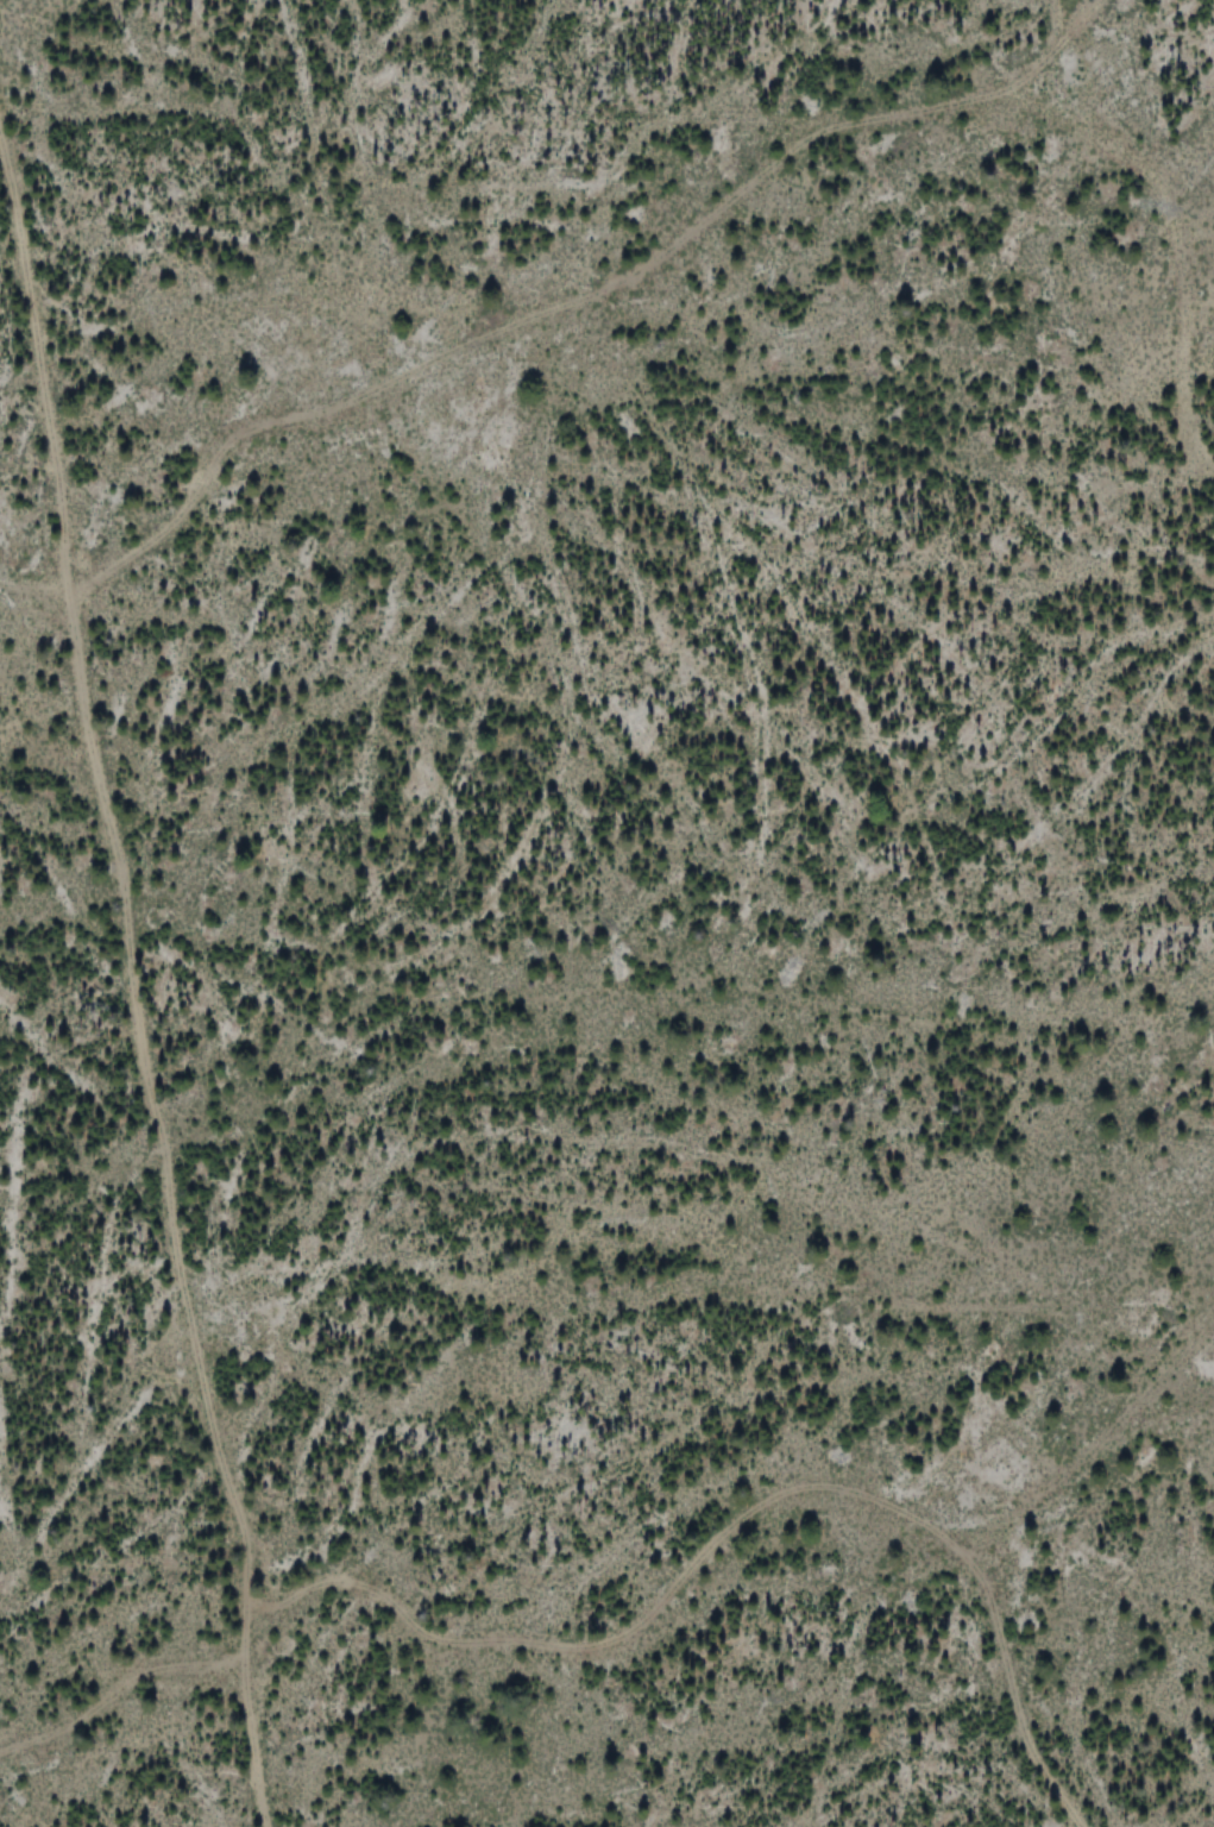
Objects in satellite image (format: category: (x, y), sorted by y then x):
road: (205, 913)

